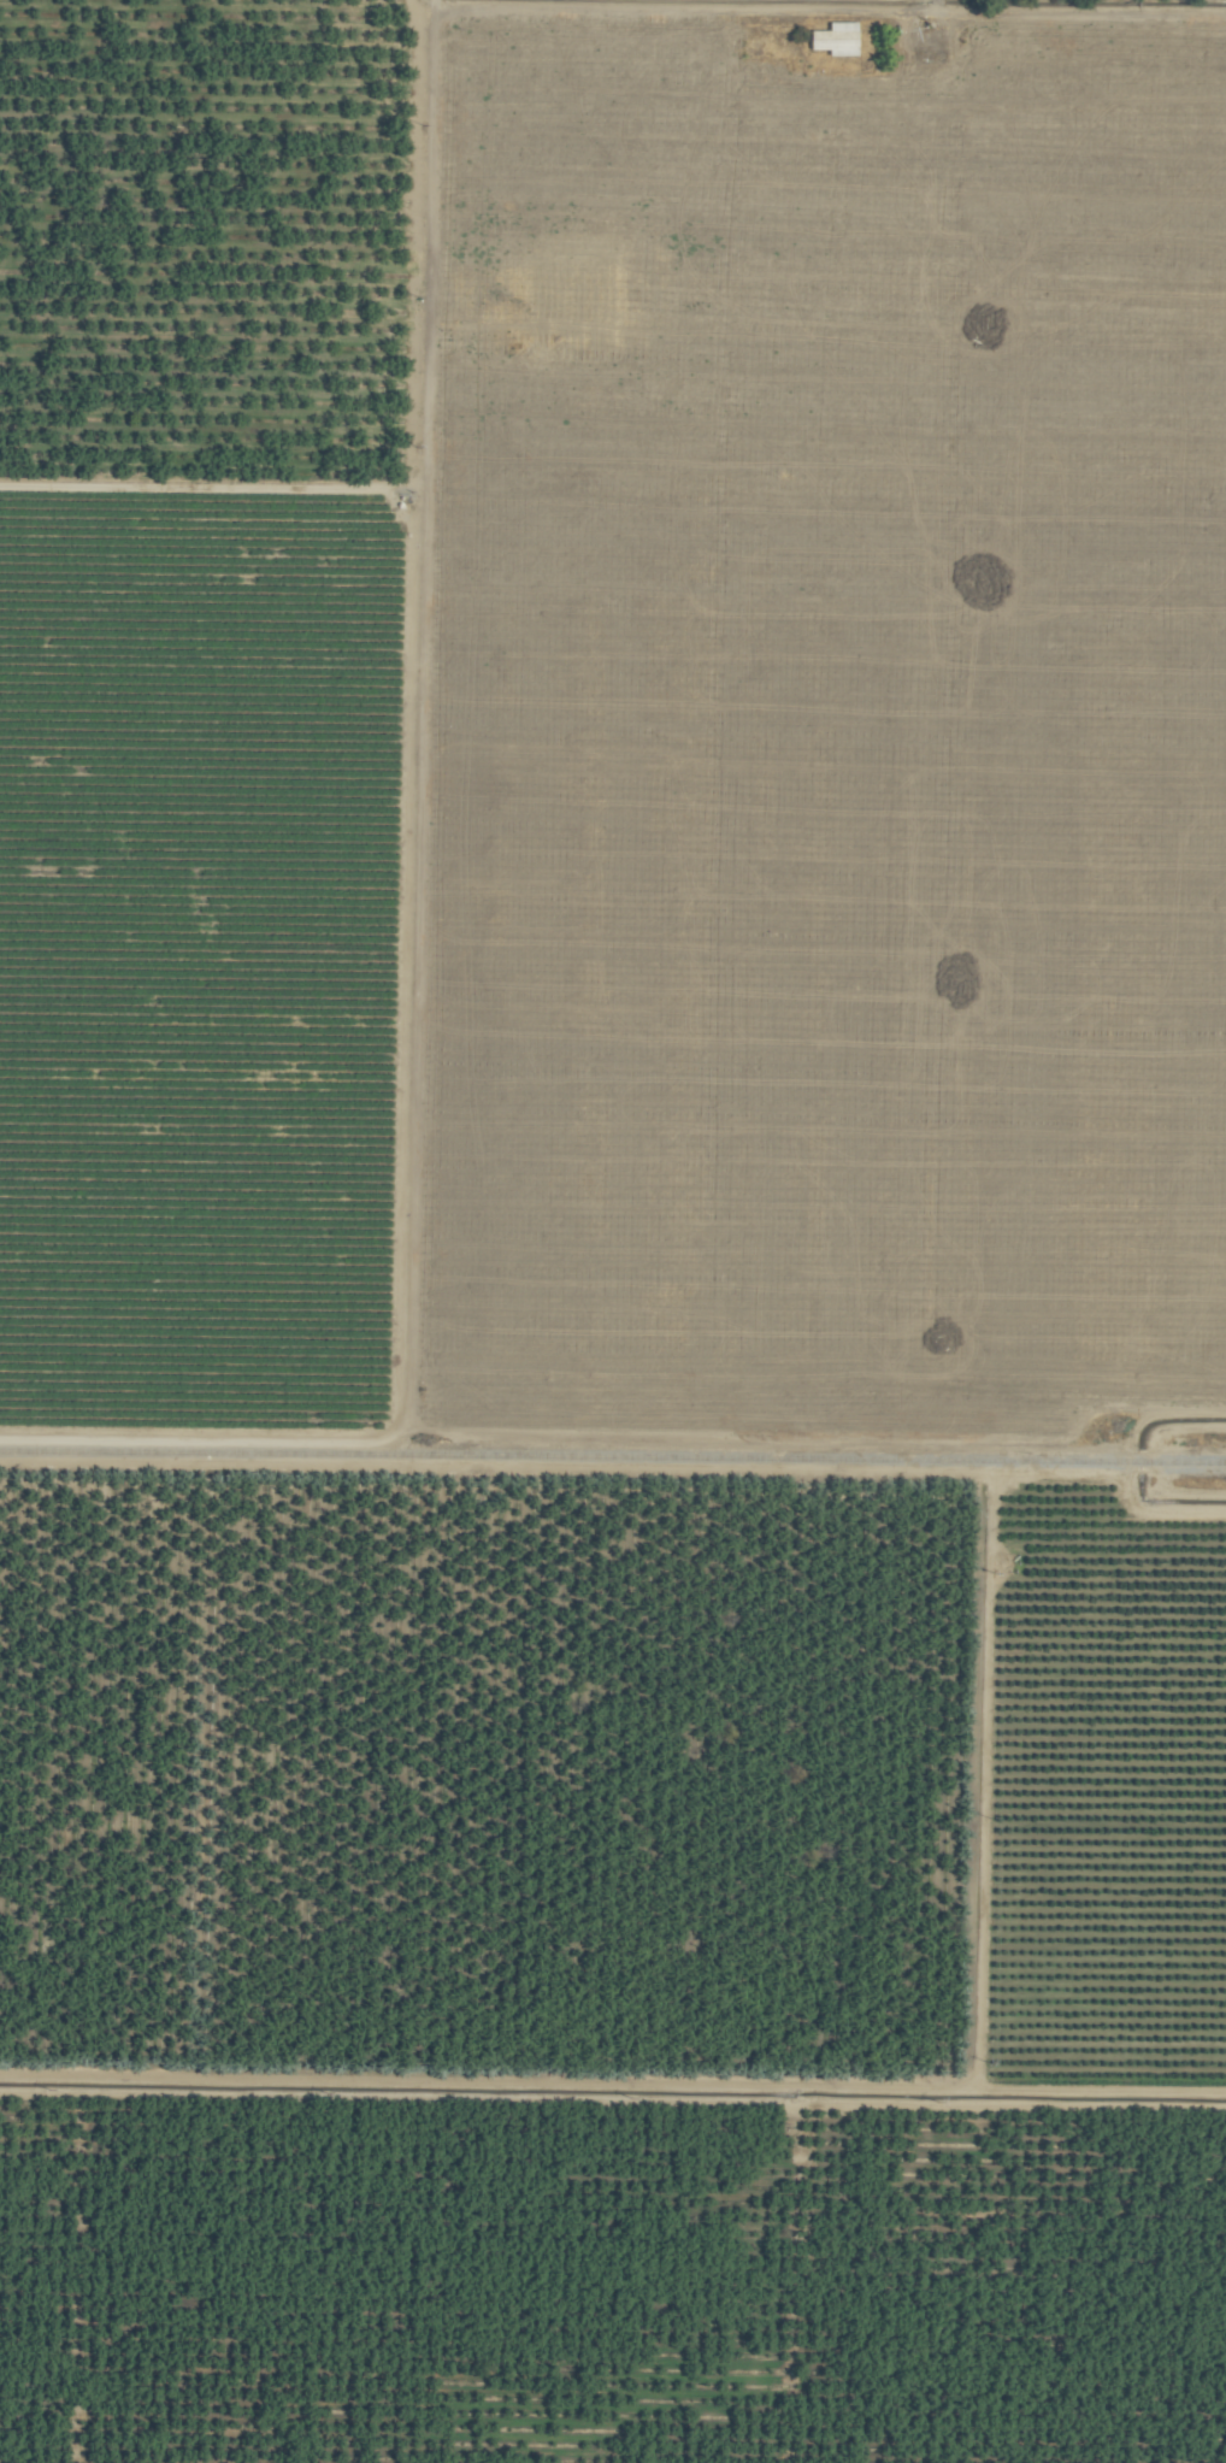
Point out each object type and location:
road: (1032, 14)
building: (831, 40)
crop: (612, 1232)
railway: (613, 1456)

